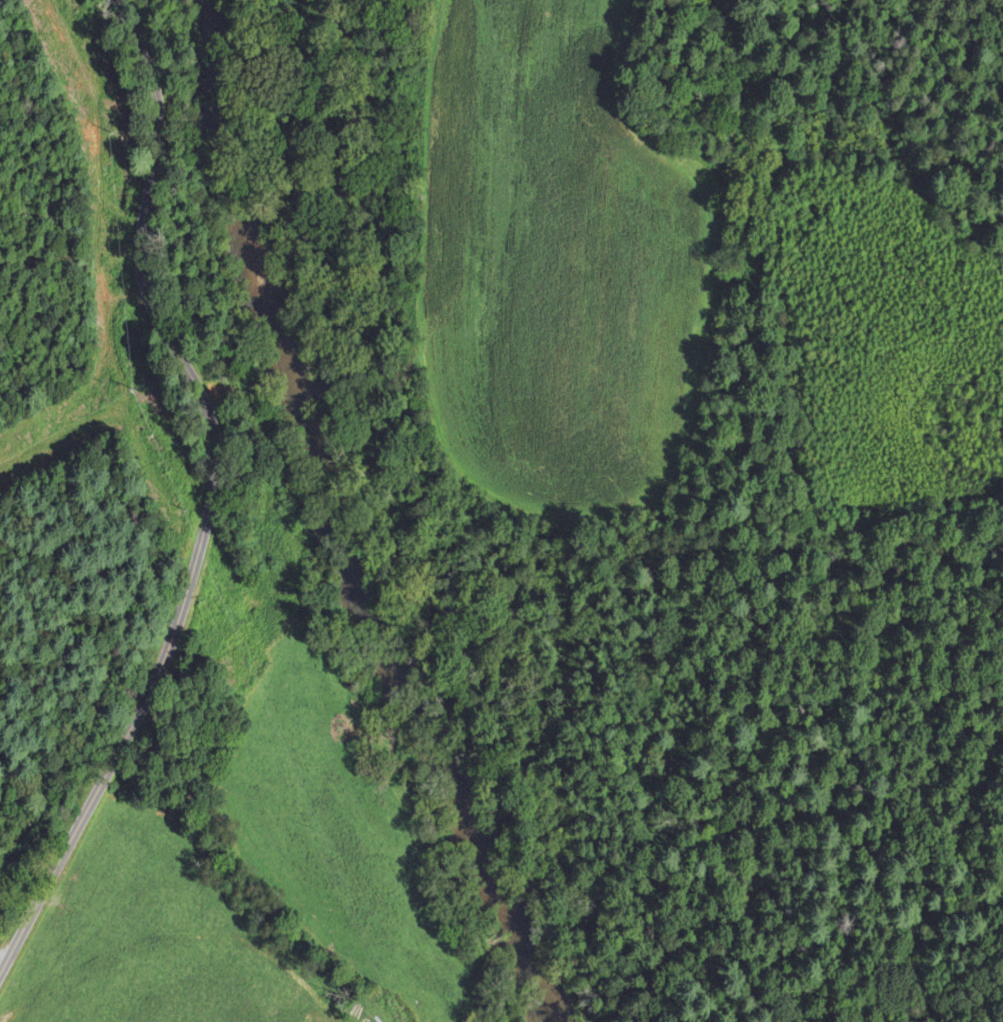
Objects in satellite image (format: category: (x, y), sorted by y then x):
road: (212, 496)
river: (330, 527)
road: (2, 962)

